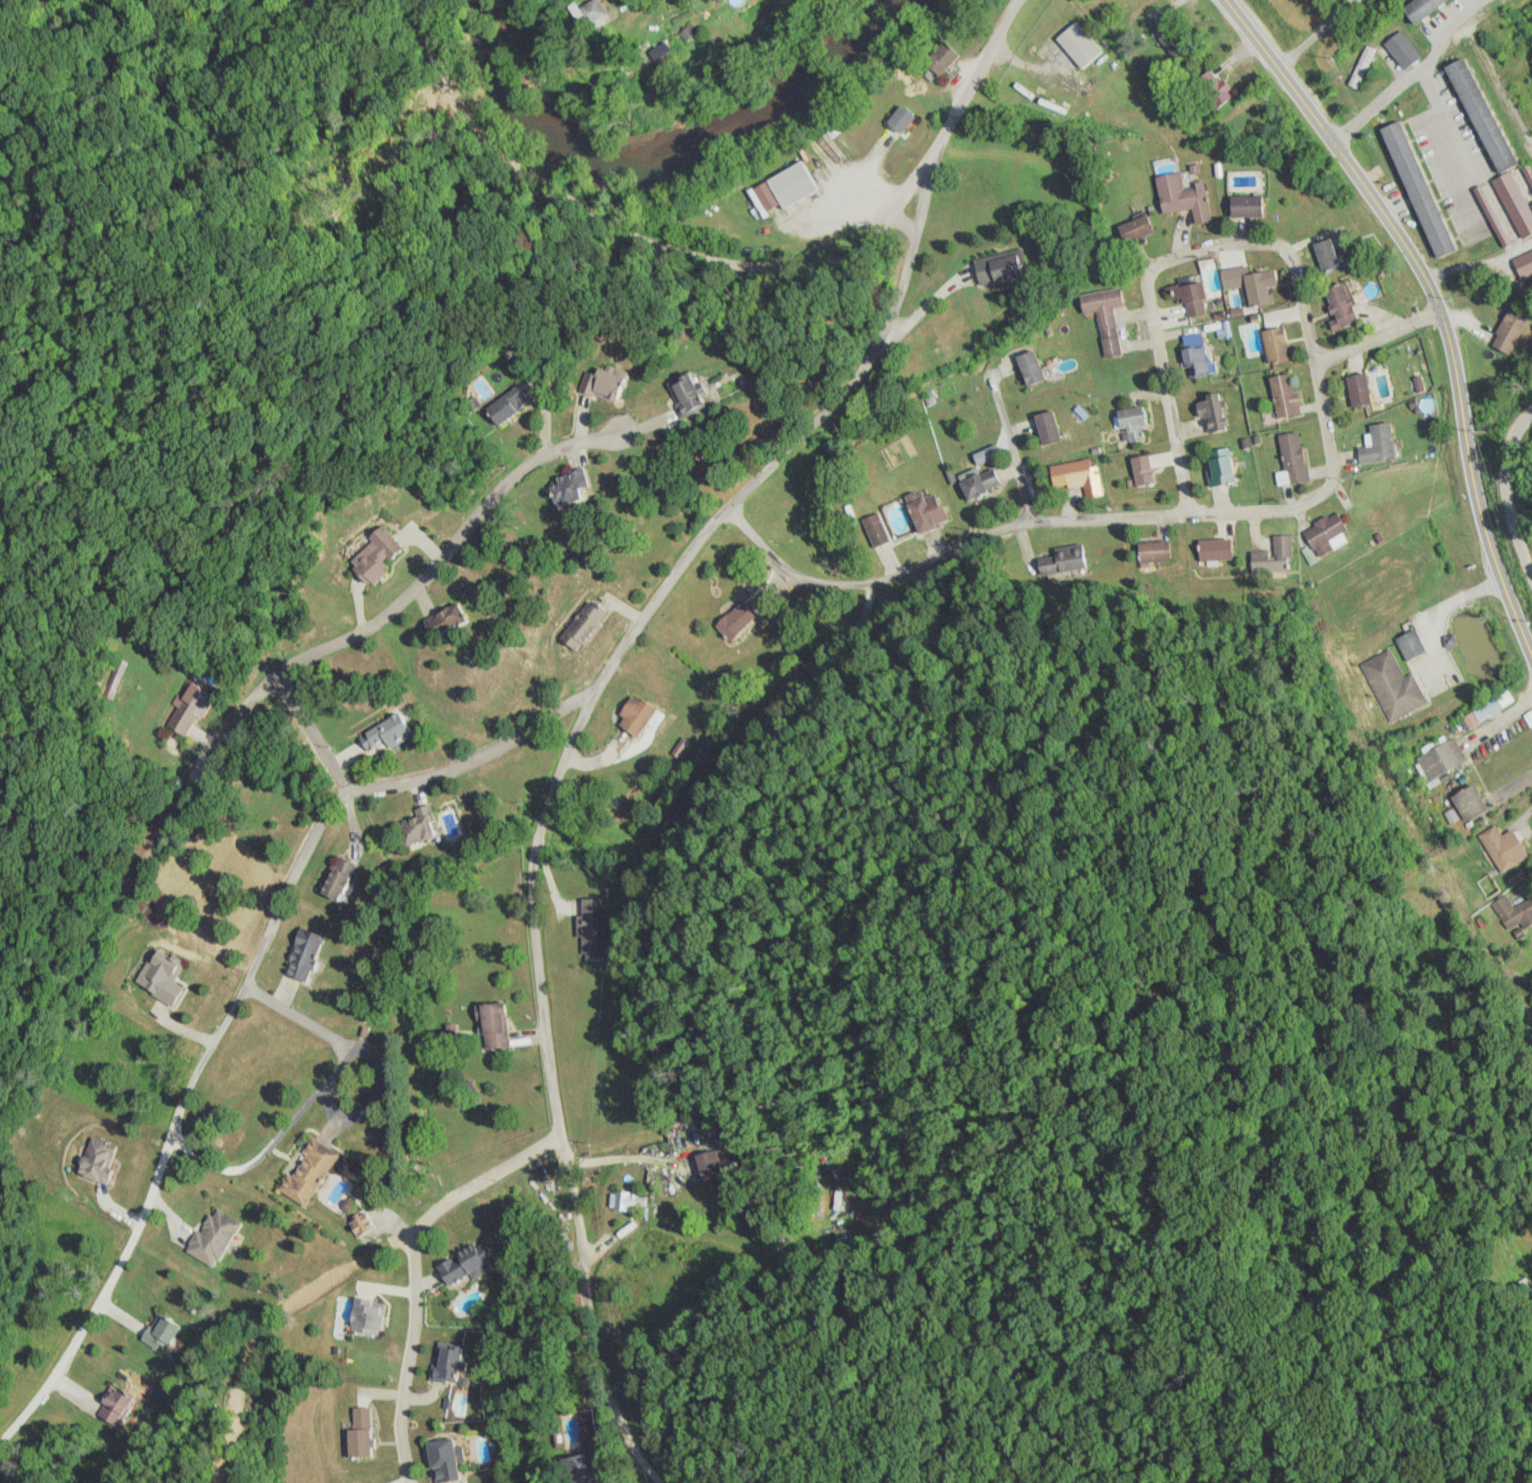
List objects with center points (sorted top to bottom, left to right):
building: (1415, 8)
building: (591, 16)
building: (1077, 45)
building: (1401, 50)
building: (659, 55)
building: (940, 59)
road: (1419, 71)
road: (1499, 90)
building: (1480, 116)
building: (899, 120)
road: (1453, 121)
river: (663, 148)
building: (791, 186)
building: (1416, 190)
building: (1183, 198)
building: (1515, 204)
building: (1245, 207)
building: (1134, 230)
building: (1471, 233)
building: (1325, 256)
building: (1523, 263)
road: (730, 264)
building: (996, 269)
building: (1211, 278)
building: (1257, 290)
building: (1190, 299)
road: (1435, 299)
building: (1338, 305)
building: (1105, 316)
building: (1509, 332)
road: (1380, 337)
building: (1275, 345)
building: (1195, 362)
building: (1030, 368)
building: (599, 384)
building: (1358, 390)
building: (1284, 395)
building: (678, 396)
building: (504, 407)
building: (1211, 412)
building: (1132, 424)
building: (1047, 428)
building: (1376, 445)
road: (1012, 447)
building: (1292, 459)
building: (1219, 467)
building: (1142, 470)
building: (1077, 477)
building: (980, 484)
road: (1506, 490)
building: (563, 493)
road: (1319, 493)
building: (926, 513)
building: (876, 530)
building: (1324, 534)
building: (1215, 550)
building: (1155, 552)
building: (372, 557)
building: (1273, 557)
building: (1063, 563)
road: (423, 577)
building: (440, 621)
building: (734, 621)
building: (1400, 622)
building: (582, 625)
building: (1394, 687)
building: (187, 711)
building: (634, 715)
road: (317, 732)
building: (383, 734)
building: (1441, 759)
road: (562, 766)
building: (1468, 804)
building: (418, 829)
building: (1503, 849)
building: (337, 878)
building: (1514, 913)
building: (596, 926)
building: (302, 954)
building: (160, 976)
road: (235, 1001)
building: (495, 1025)
building: (97, 1160)
building: (711, 1166)
building: (308, 1172)
building: (628, 1202)
building: (214, 1237)
building: (467, 1265)
road: (416, 1273)
building: (1526, 1288)
building: (367, 1317)
building: (162, 1332)
building: (447, 1364)
building: (115, 1406)
building: (360, 1432)
building: (442, 1460)
building: (582, 1469)

